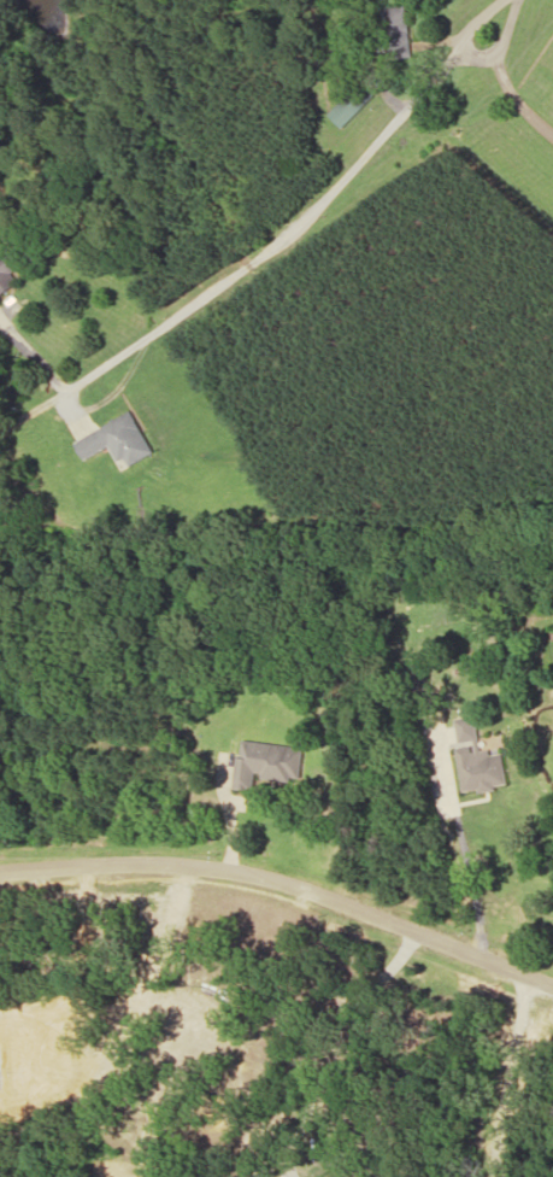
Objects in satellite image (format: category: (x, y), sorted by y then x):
building: (395, 31)
building: (355, 98)
road: (283, 233)
building: (6, 274)
building: (118, 439)
building: (476, 759)
building: (264, 761)
road: (284, 882)

